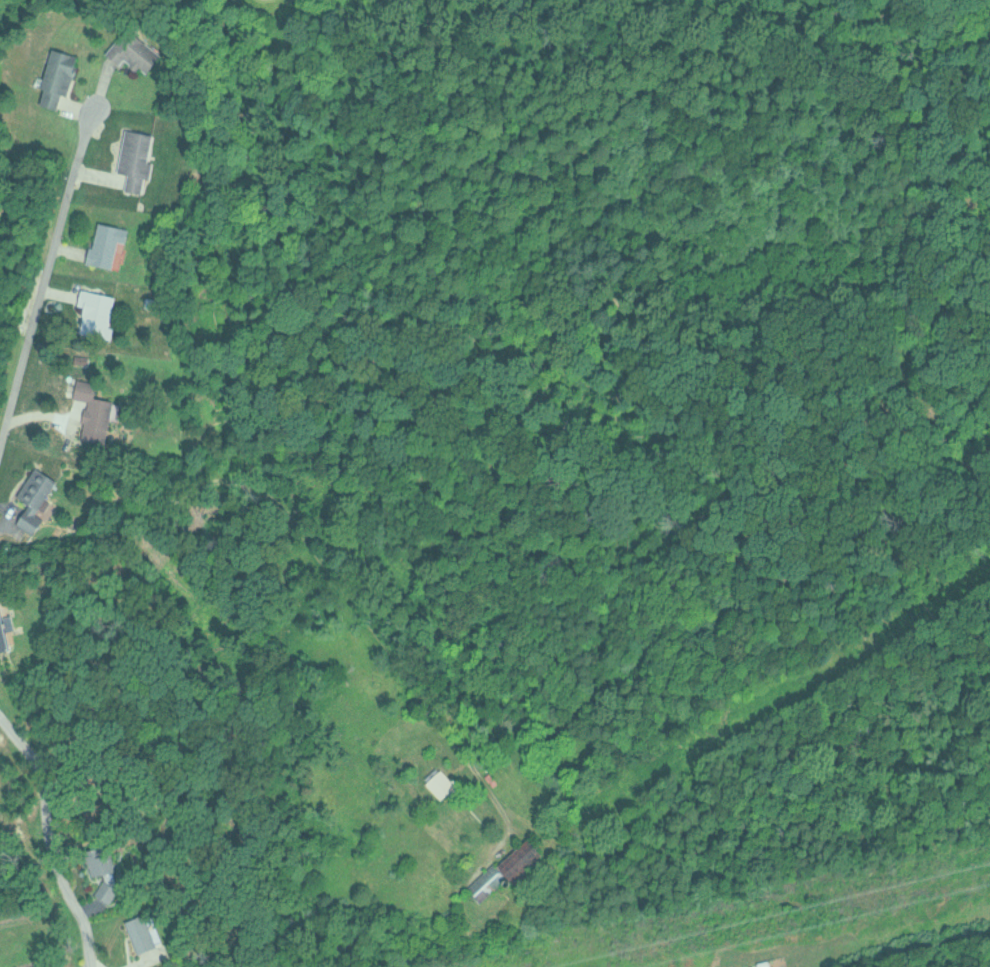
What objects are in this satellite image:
building: (135, 50)
building: (57, 78)
building: (137, 158)
building: (107, 243)
road: (45, 269)
building: (96, 312)
building: (94, 411)
road: (478, 446)
building: (36, 498)
building: (4, 631)
building: (443, 784)
road: (48, 837)
building: (525, 862)
building: (99, 863)
building: (487, 882)
building: (107, 890)
building: (136, 929)
building: (45, 966)

